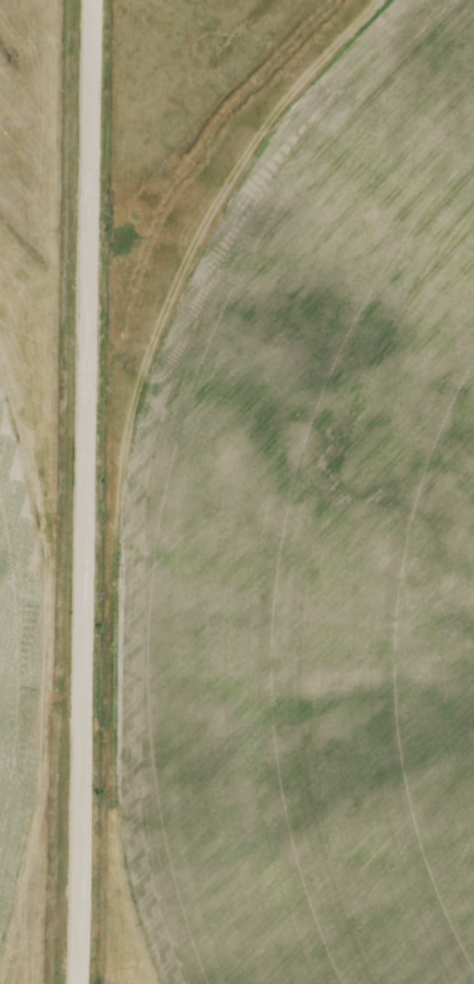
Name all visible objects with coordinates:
road: (83, 491)

